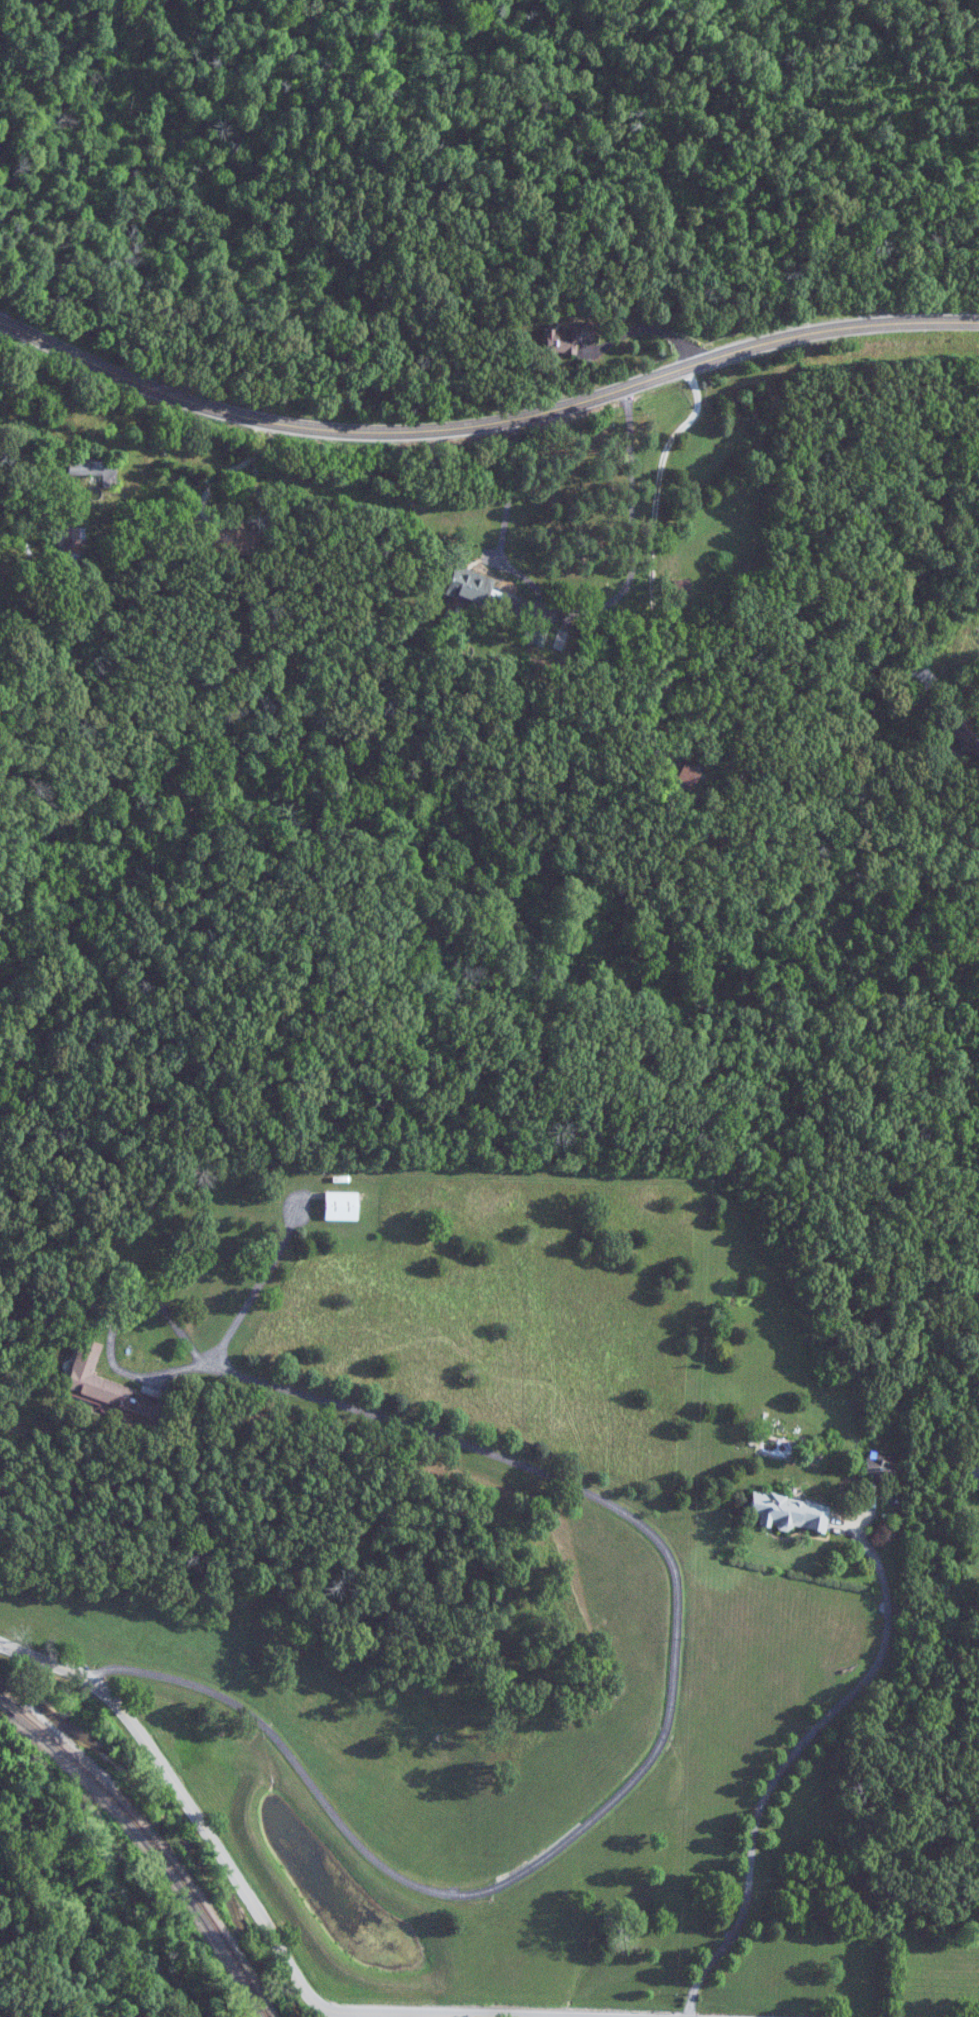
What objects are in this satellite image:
building: (568, 337)
road: (488, 431)
road: (836, 436)
road: (159, 448)
building: (96, 470)
building: (233, 538)
building: (72, 543)
building: (472, 586)
building: (683, 586)
road: (652, 604)
road: (589, 607)
building: (537, 635)
building: (921, 677)
building: (966, 731)
building: (689, 778)
building: (342, 1206)
building: (109, 1386)
building: (881, 1464)
building: (974, 1475)
building: (792, 1512)
road: (676, 1619)
road: (785, 1752)
road: (184, 1801)
railway: (146, 1849)
road: (323, 2014)
road: (404, 2014)

